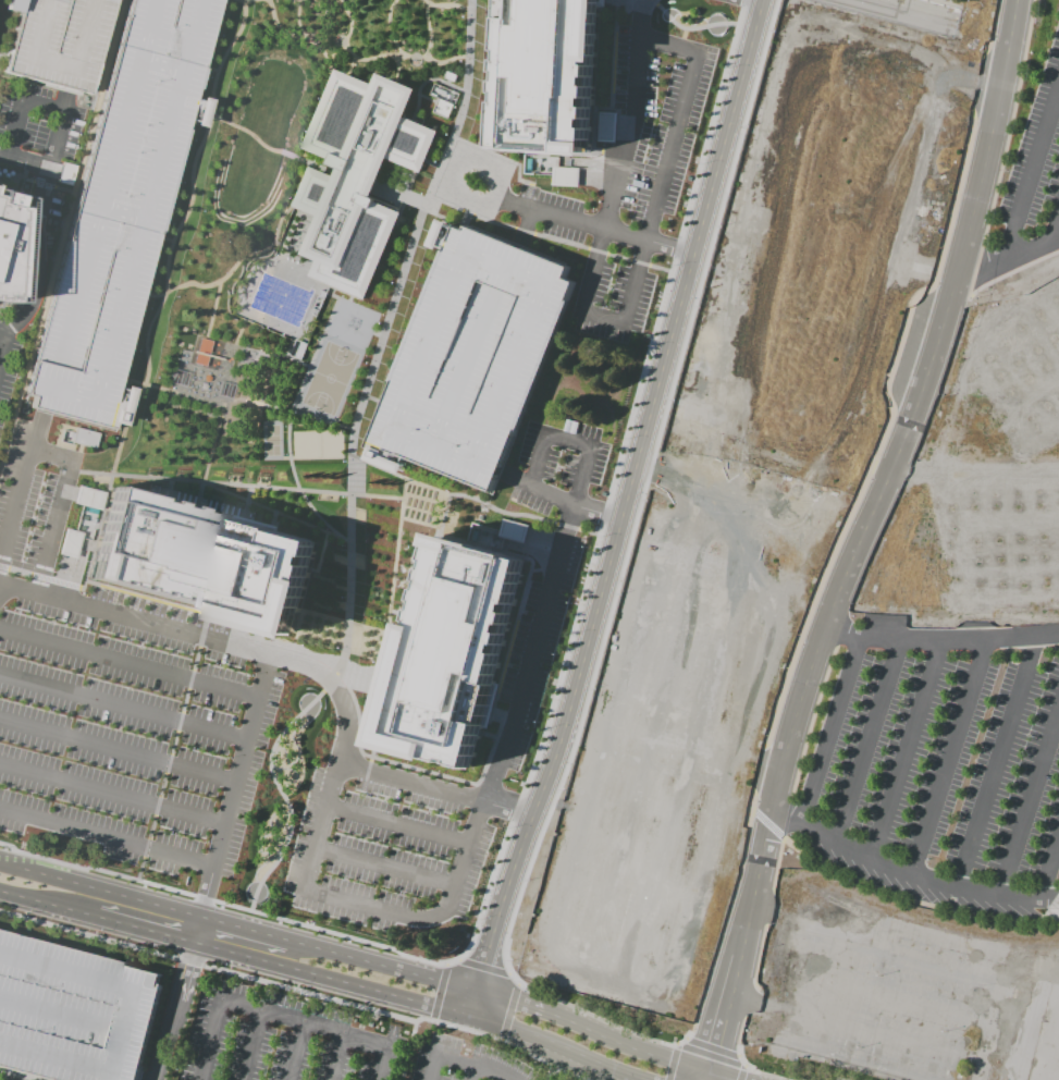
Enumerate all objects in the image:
building: (945, 0)
road: (652, 1)
road: (445, 4)
road: (691, 26)
road: (990, 26)
road: (427, 28)
road: (391, 35)
building: (57, 40)
parking lot: (57, 40)
road: (414, 54)
road: (612, 58)
building: (554, 73)
road: (980, 82)
road: (66, 101)
building: (442, 107)
road: (42, 109)
road: (633, 114)
road: (673, 121)
road: (1009, 123)
road: (15, 130)
road: (255, 138)
road: (987, 139)
parking lot: (1036, 154)
road: (24, 160)
road: (49, 163)
building: (365, 170)
road: (1032, 173)
building: (564, 176)
road: (33, 181)
building: (669, 191)
road: (405, 196)
building: (123, 209)
parking garage: (123, 209)
road: (554, 214)
road: (1055, 226)
road: (60, 232)
road: (624, 233)
road: (546, 236)
road: (167, 238)
road: (668, 245)
building: (10, 246)
road: (1007, 257)
road: (239, 259)
road: (973, 268)
parking lot: (34, 270)
road: (1012, 270)
road: (36, 274)
parking lot: (608, 285)
road: (163, 293)
road: (156, 294)
road: (968, 294)
road: (213, 307)
road: (599, 319)
road: (4, 329)
road: (4, 345)
building: (477, 353)
parking garage: (477, 353)
park: (325, 378)
road: (244, 400)
road: (884, 425)
building: (84, 438)
park: (269, 441)
road: (212, 443)
road: (895, 453)
road: (50, 456)
road: (535, 456)
parking lot: (555, 463)
road: (349, 467)
road: (235, 483)
road: (611, 486)
road: (296, 487)
road: (642, 488)
road: (17, 493)
road: (471, 498)
building: (88, 499)
road: (623, 511)
road: (443, 512)
road: (419, 523)
road: (54, 527)
building: (512, 530)
road: (393, 553)
building: (204, 559)
road: (40, 576)
road: (144, 599)
road: (940, 639)
building: (459, 649)
road: (262, 654)
road: (126, 663)
road: (357, 684)
parking lot: (118, 699)
road: (122, 704)
road: (810, 721)
road: (378, 724)
road: (829, 729)
road: (867, 740)
road: (170, 747)
road: (116, 748)
road: (904, 748)
road: (488, 753)
road: (948, 757)
road: (381, 759)
road: (996, 761)
road: (759, 764)
parking lot: (941, 776)
road: (435, 790)
road: (111, 794)
road: (1029, 799)
road: (752, 808)
road: (785, 815)
road: (767, 824)
road: (397, 825)
road: (106, 837)
parking lot: (385, 845)
road: (763, 851)
road: (776, 862)
road: (1049, 866)
road: (383, 869)
road: (910, 873)
road: (99, 891)
road: (912, 900)
road: (47, 904)
road: (225, 904)
road: (768, 907)
road: (440, 910)
road: (724, 918)
road: (143, 929)
road: (195, 929)
road: (242, 929)
road: (759, 954)
road: (459, 959)
road: (444, 966)
road: (483, 966)
road: (507, 972)
road: (515, 984)
road: (297, 990)
road: (438, 991)
road: (500, 996)
road: (749, 999)
road: (419, 1004)
road: (170, 1010)
road: (507, 1011)
road: (63, 1014)
building: (73, 1014)
parking lot: (73, 1014)
road: (591, 1015)
road: (280, 1016)
road: (431, 1018)
road: (128, 1021)
road: (1029, 1031)
road: (739, 1038)
road: (500, 1039)
road: (687, 1039)
parking lot: (282, 1041)
road: (250, 1045)
road: (675, 1045)
road: (711, 1047)
road: (296, 1051)
road: (406, 1051)
road: (736, 1055)
road: (336, 1056)
road: (464, 1061)
parking lot: (465, 1061)
road: (670, 1063)
road: (742, 1067)
road: (473, 1072)
road: (545, 1072)
road: (740, 1073)
road: (768, 1075)

